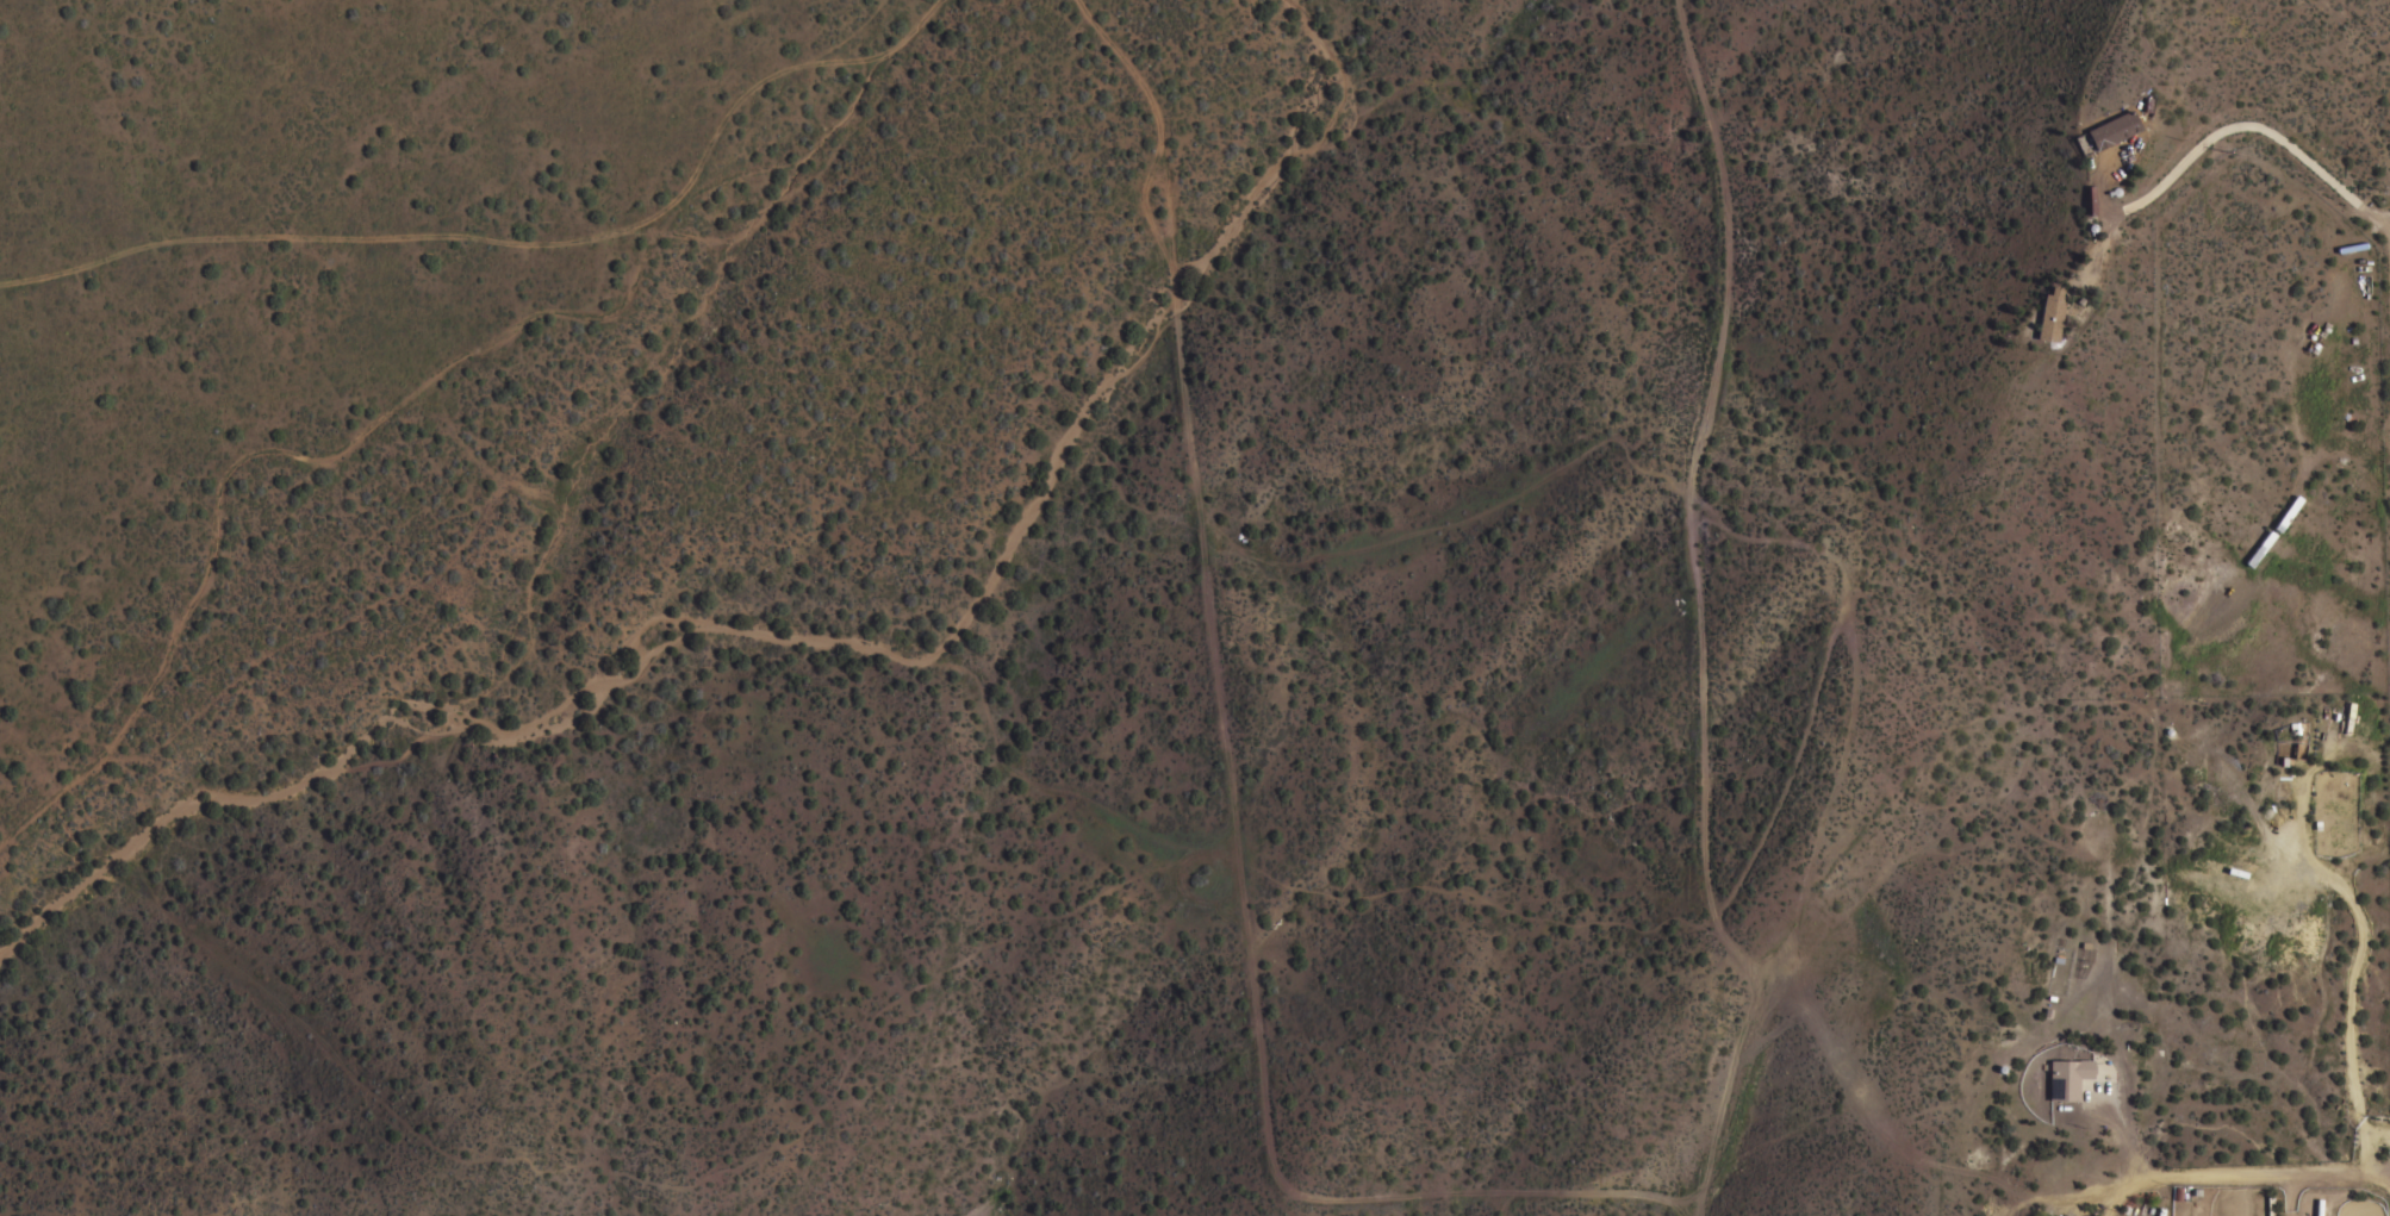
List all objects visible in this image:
building: (2112, 129)
road: (2260, 131)
building: (2091, 199)
building: (2050, 314)
road: (1698, 613)
building: (2296, 750)
road: (1228, 790)
road: (2346, 909)
building: (2068, 1078)
road: (2116, 1130)
road: (2369, 1130)
road: (2209, 1174)
road: (2280, 1191)
road: (2098, 1195)
road: (2095, 1211)
road: (2278, 1212)

